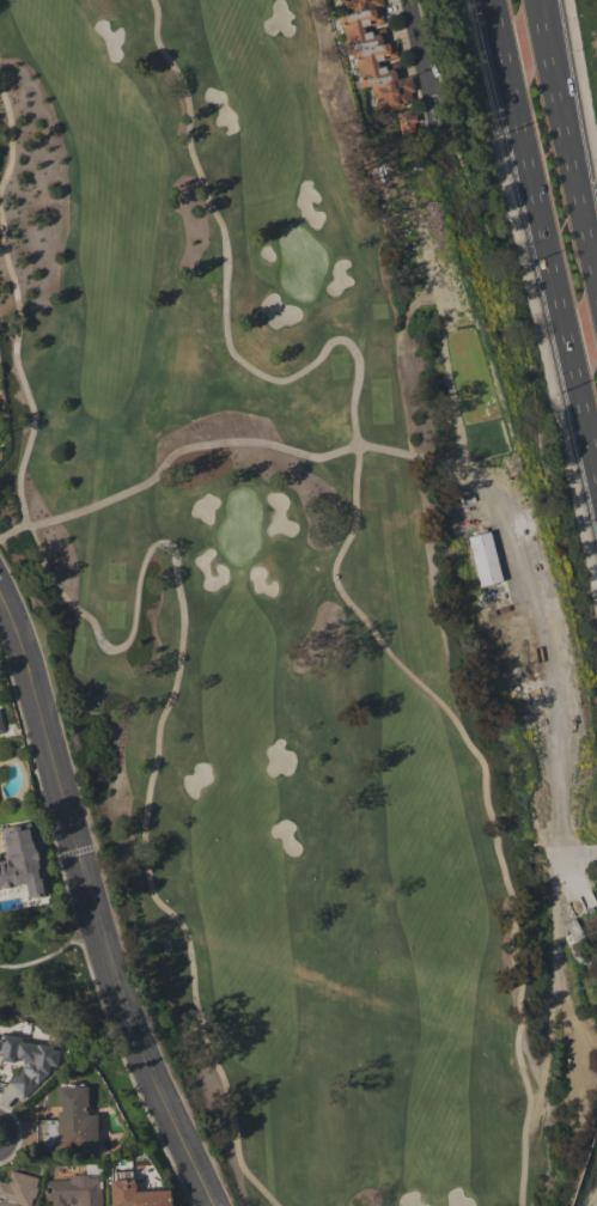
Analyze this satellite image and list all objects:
road: (544, 30)
building: (373, 53)
road: (425, 63)
road: (580, 81)
building: (406, 121)
road: (10, 136)
road: (574, 167)
road: (543, 237)
road: (531, 300)
road: (208, 441)
road: (342, 547)
building: (483, 559)
road: (178, 587)
park: (305, 601)
building: (1, 726)
building: (19, 859)
road: (91, 902)
building: (572, 933)
building: (28, 1060)
building: (68, 1123)
road: (10, 1134)
building: (17, 1189)
building: (74, 1190)
building: (133, 1192)

